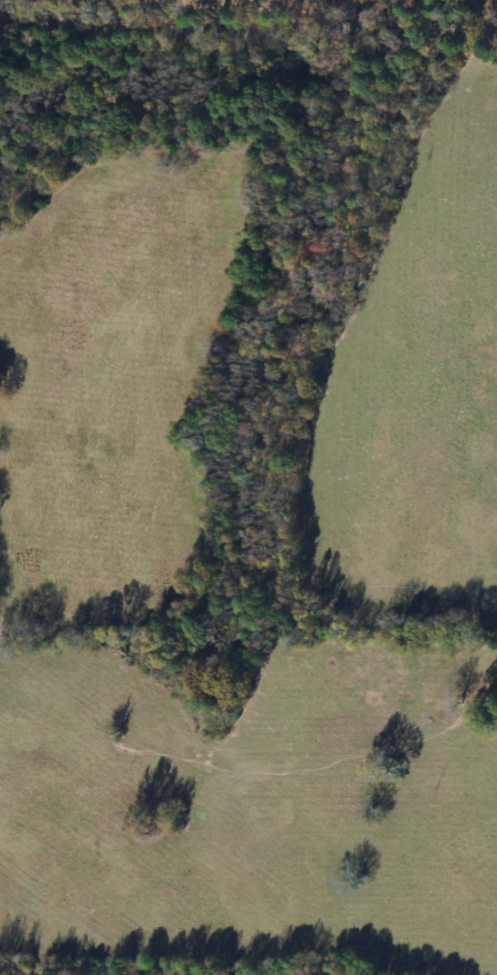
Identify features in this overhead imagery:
road: (291, 13)
road: (247, 25)

